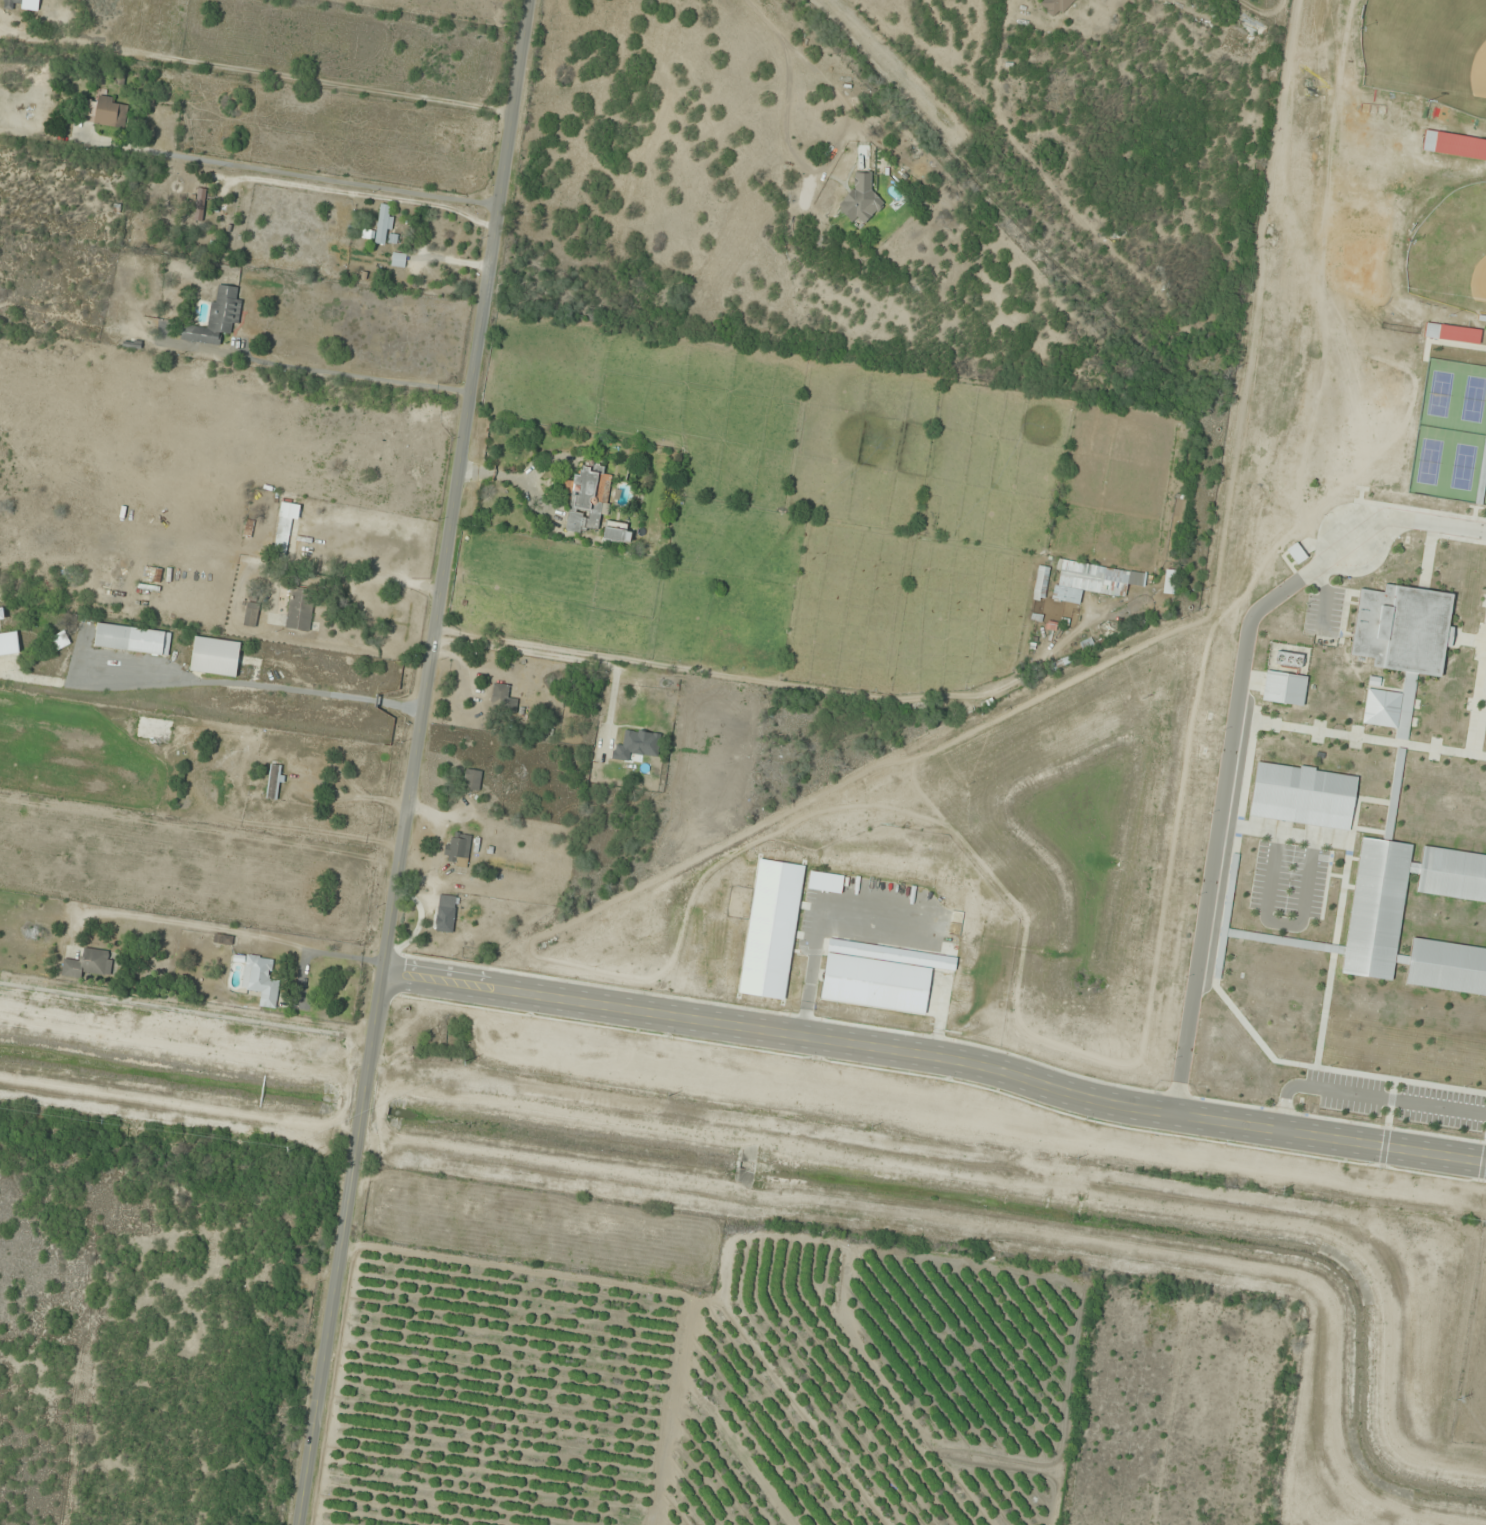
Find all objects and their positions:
building: (22, 5)
building: (1056, 7)
park: (1428, 50)
building: (106, 113)
building: (861, 198)
building: (200, 205)
building: (381, 225)
park: (1452, 252)
building: (398, 260)
building: (217, 318)
park: (1452, 435)
road: (517, 476)
building: (589, 492)
road: (537, 499)
building: (574, 522)
road: (1414, 522)
building: (286, 523)
building: (617, 532)
building: (1297, 554)
building: (1096, 578)
building: (300, 610)
building: (1, 614)
building: (132, 640)
building: (60, 641)
building: (9, 643)
building: (1400, 647)
building: (215, 657)
building: (1284, 689)
building: (502, 698)
building: (637, 744)
road: (411, 762)
building: (472, 780)
building: (1394, 794)
building: (1303, 796)
road: (1221, 806)
road: (1284, 831)
building: (459, 851)
building: (445, 914)
building: (1412, 919)
road: (1283, 925)
building: (88, 964)
building: (880, 976)
building: (260, 980)
road: (935, 1053)
road: (1365, 1096)

